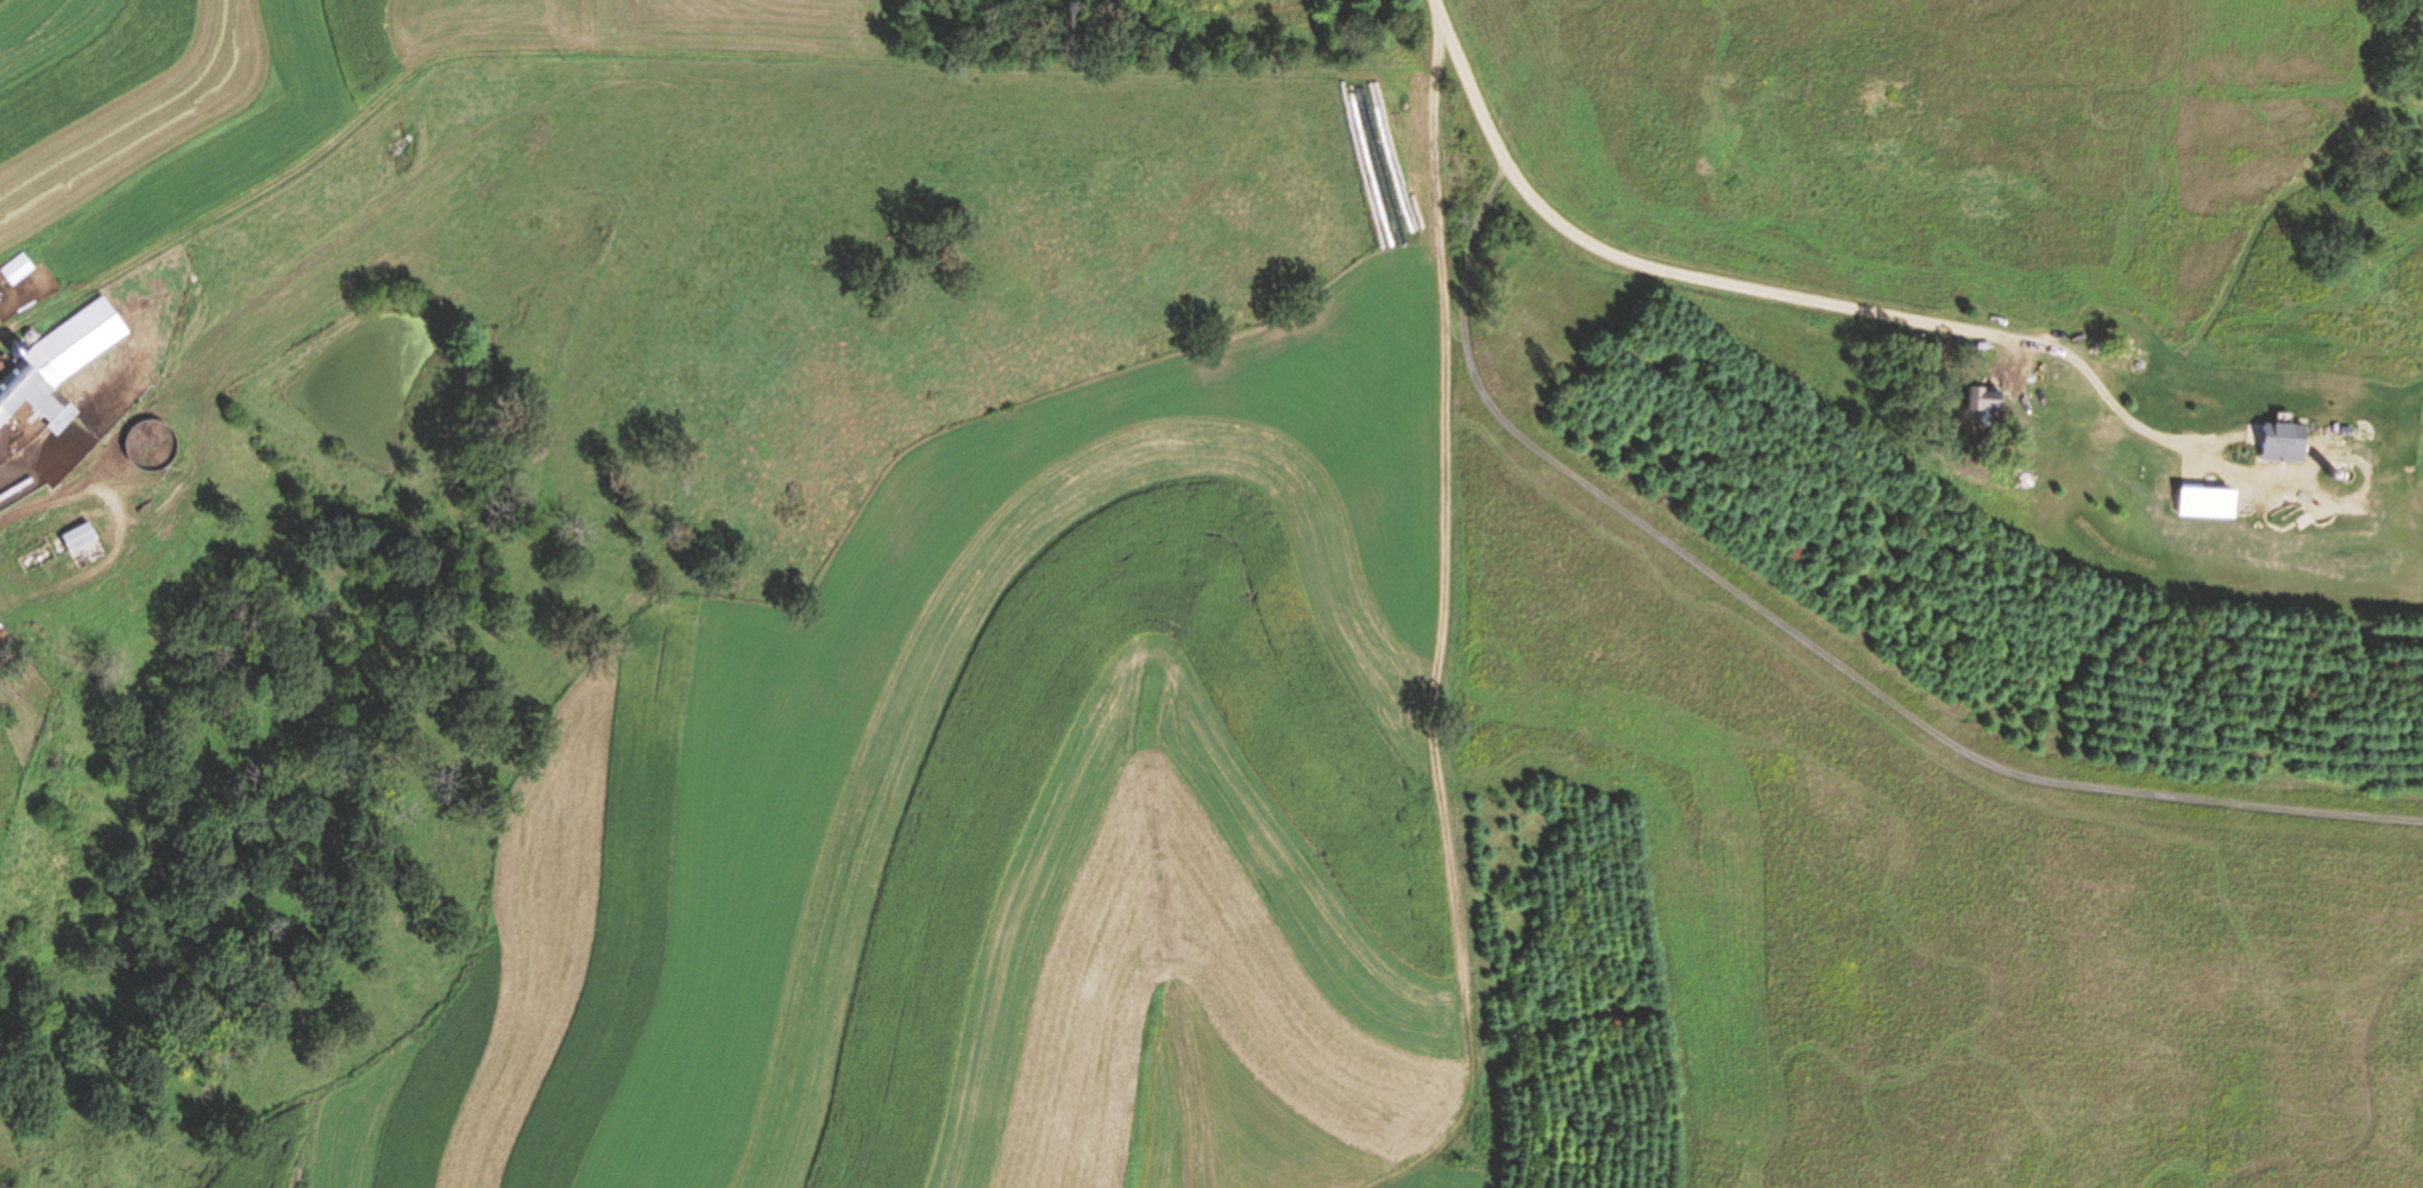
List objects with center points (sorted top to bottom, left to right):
building: (18, 269)
road: (1681, 276)
building: (58, 364)
building: (1985, 403)
road: (58, 513)
building: (77, 535)

